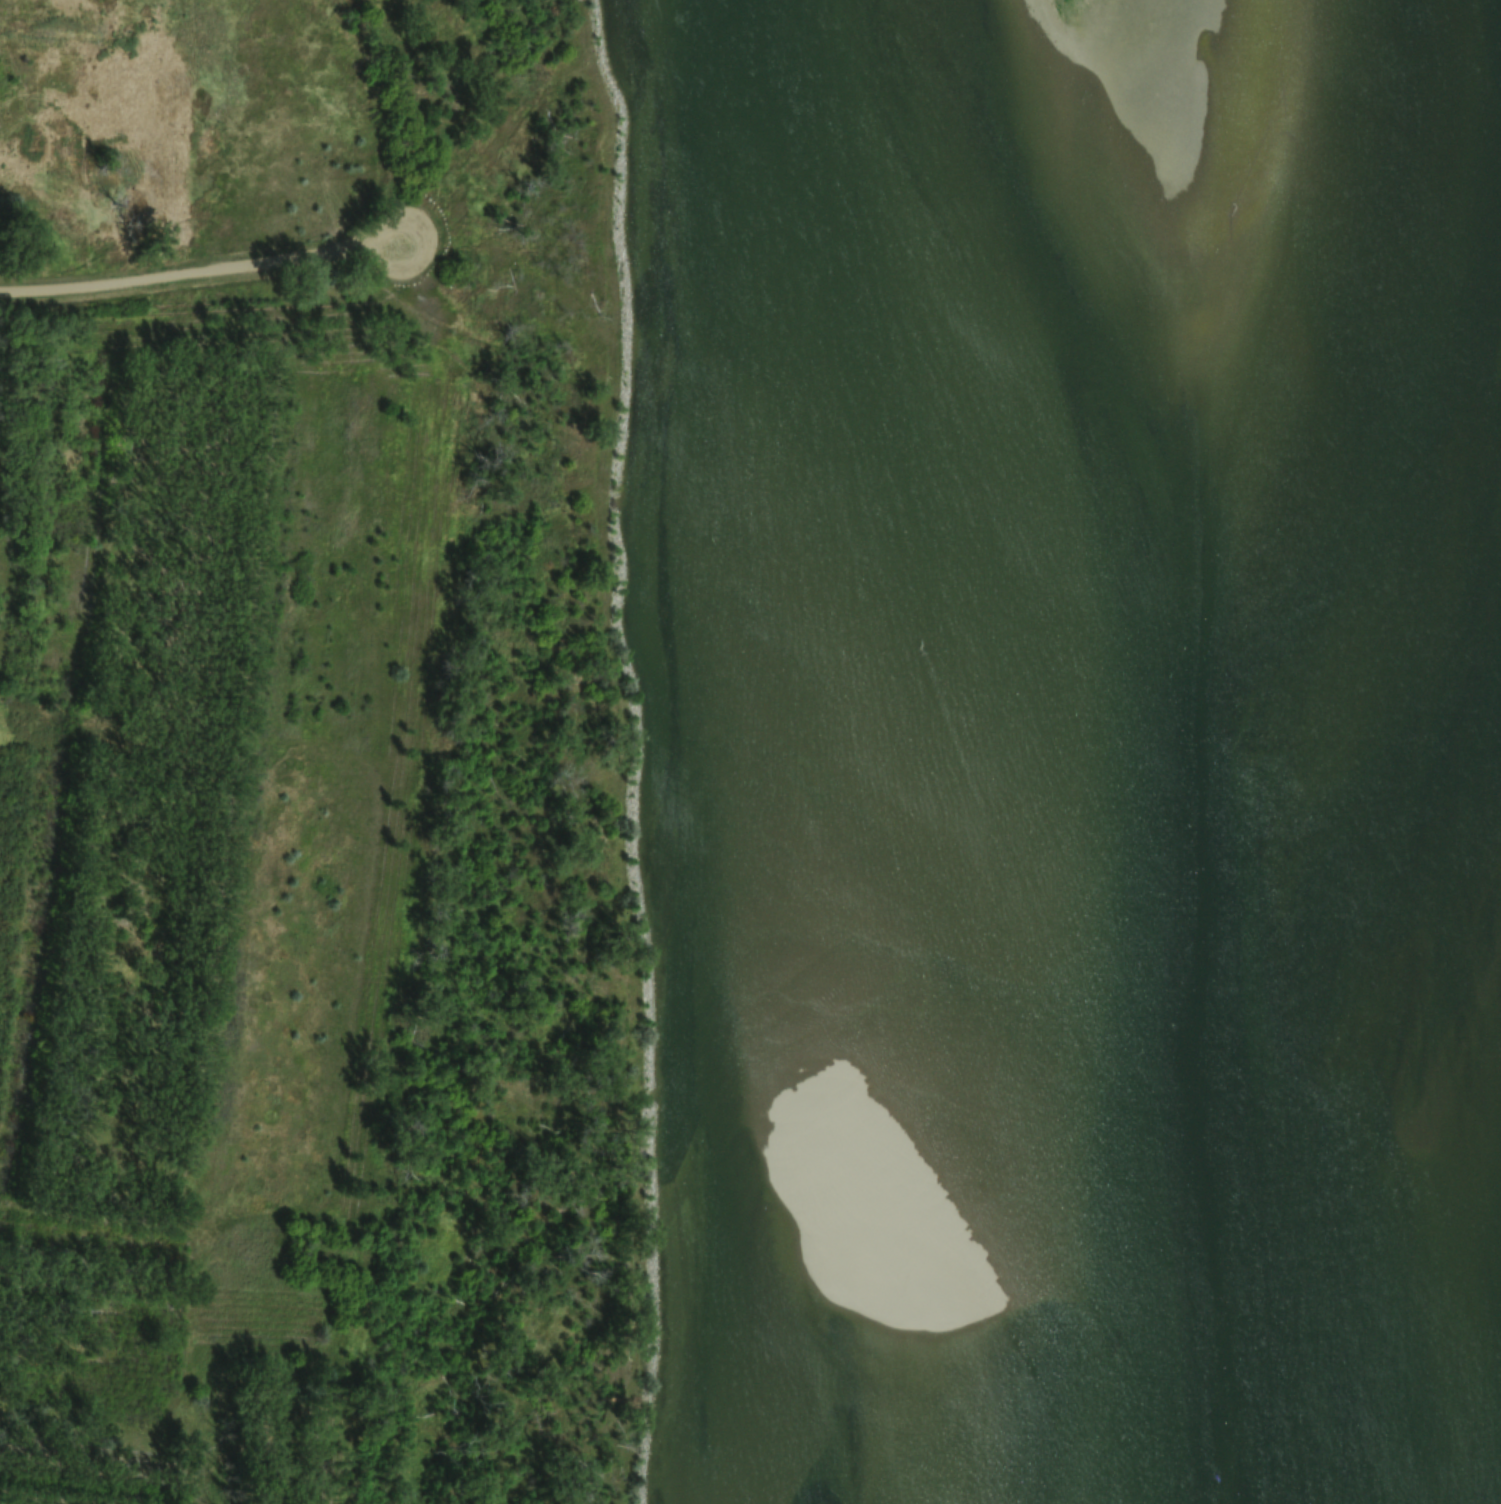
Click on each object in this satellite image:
road: (199, 276)
river: (1463, 303)

